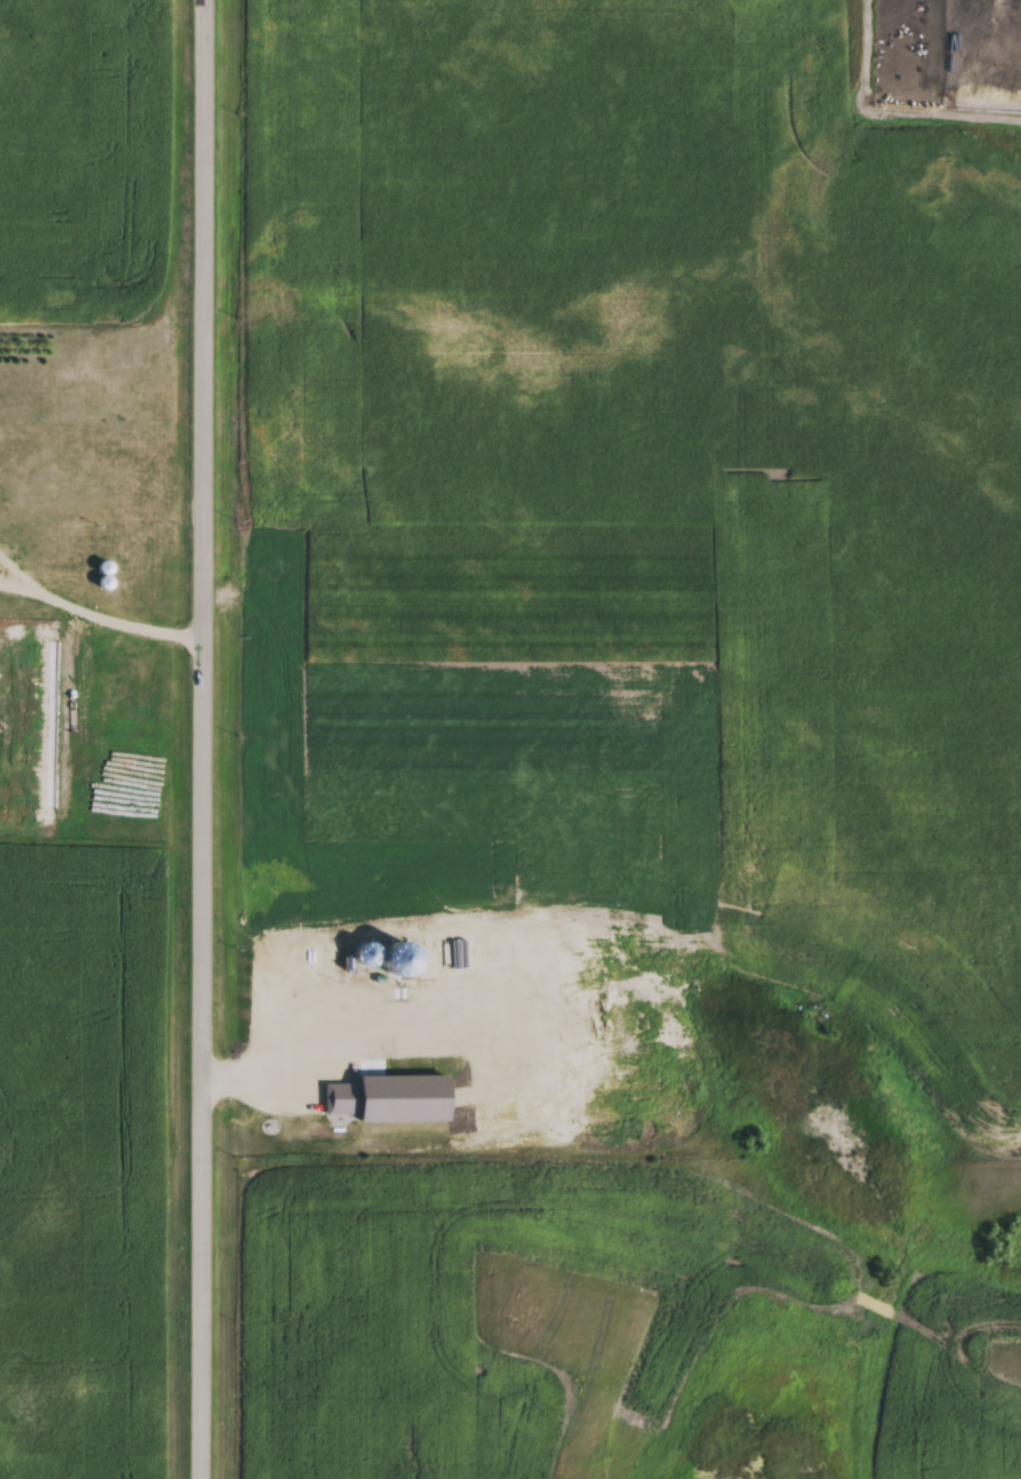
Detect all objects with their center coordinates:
road: (29, 557)
building: (104, 578)
road: (203, 739)

